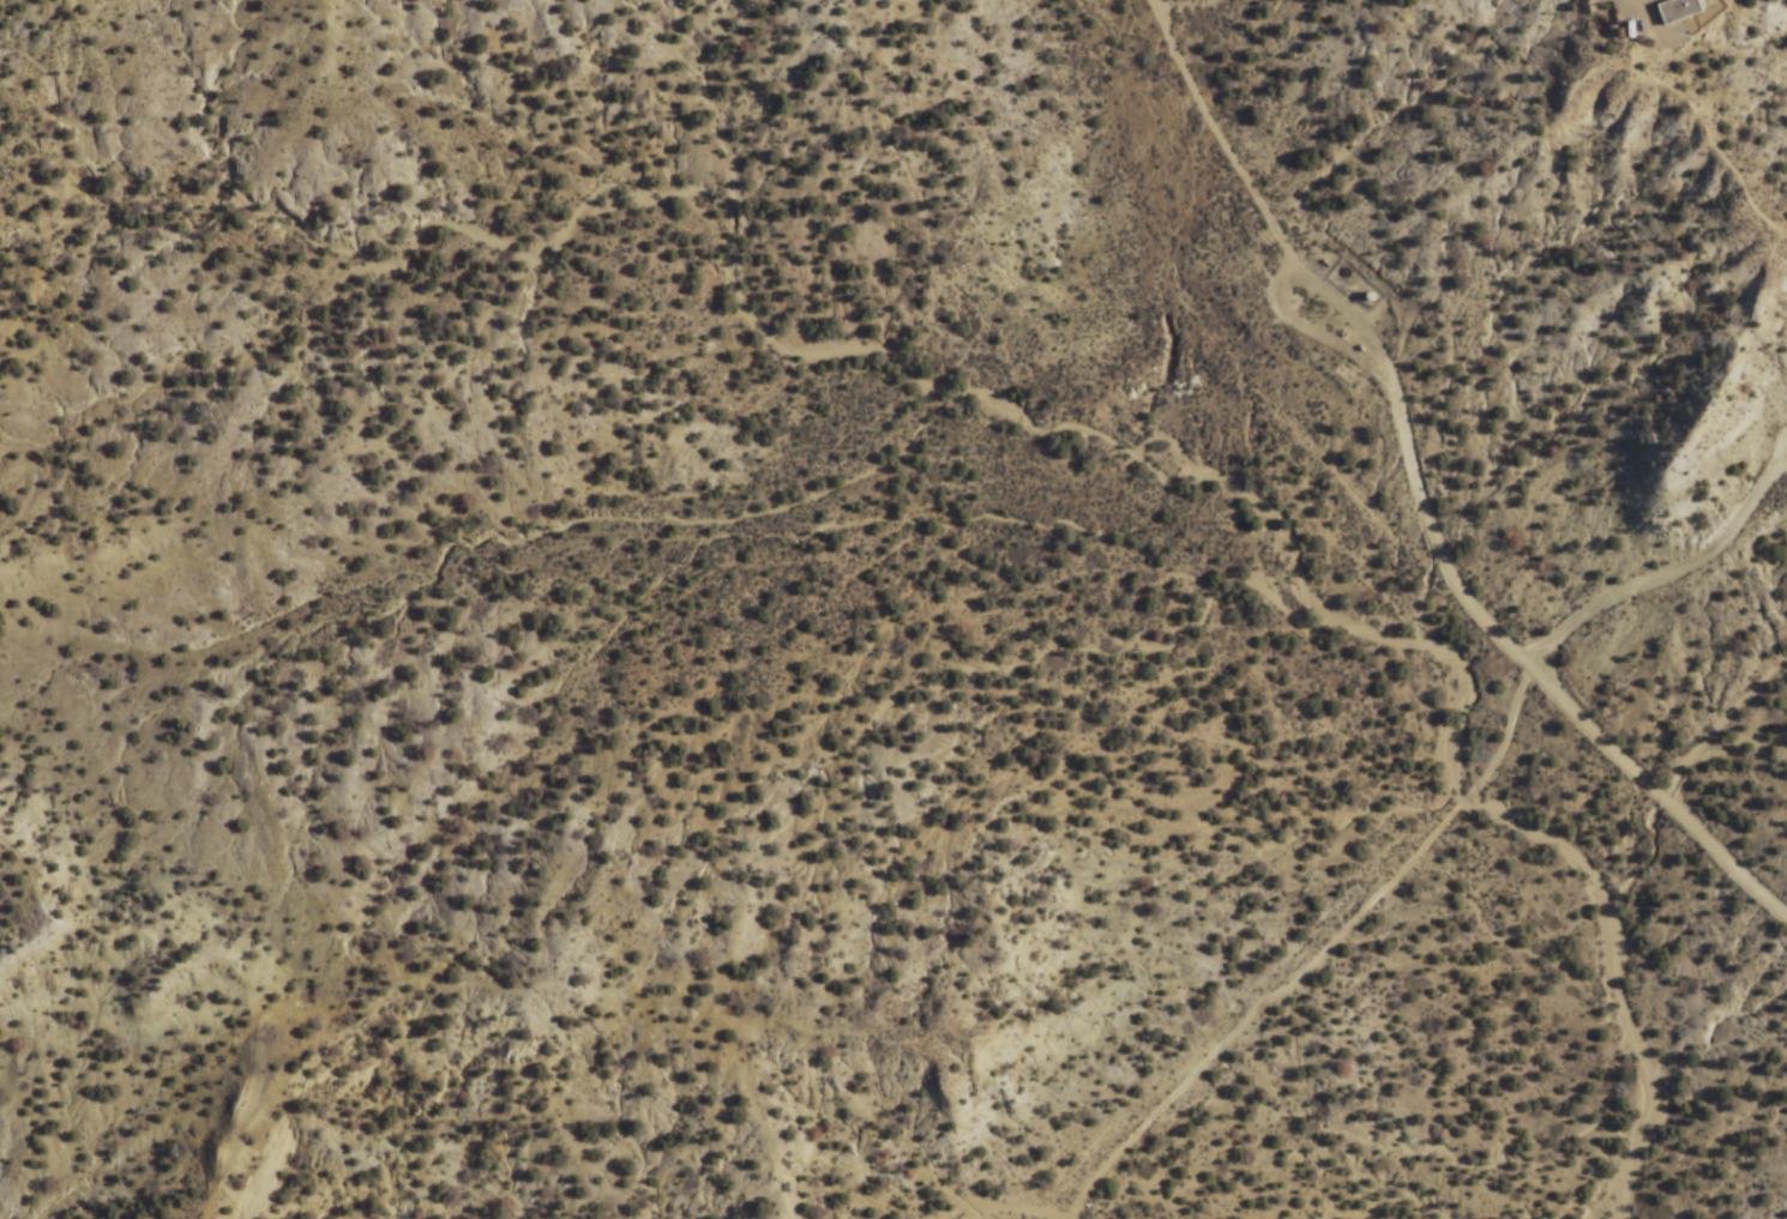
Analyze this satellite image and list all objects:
building: (1677, 8)
road: (1538, 677)
road: (1314, 954)
road: (219, 961)
road: (1016, 1208)

